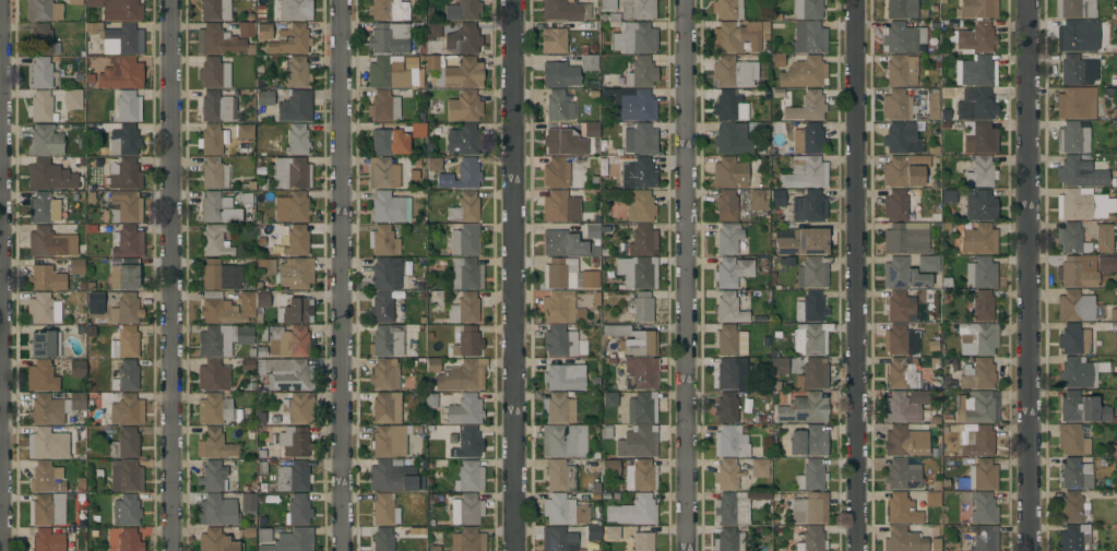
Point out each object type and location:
building: (74, 2)
building: (607, 4)
building: (1074, 8)
building: (118, 9)
building: (727, 9)
building: (808, 9)
building: (899, 9)
building: (976, 9)
building: (41, 10)
building: (215, 10)
building: (295, 10)
building: (463, 10)
building: (560, 10)
building: (638, 10)
building: (387, 11)
building: (246, 29)
building: (433, 31)
building: (264, 32)
building: (1078, 35)
building: (736, 37)
building: (808, 37)
building: (903, 37)
building: (389, 38)
building: (634, 38)
building: (976, 38)
building: (40, 39)
building: (463, 39)
building: (123, 40)
building: (290, 40)
building: (554, 40)
building: (217, 41)
building: (776, 60)
building: (431, 62)
building: (589, 62)
building: (1077, 70)
building: (739, 71)
building: (902, 71)
building: (976, 71)
building: (41, 72)
building: (803, 72)
building: (214, 73)
building: (295, 73)
building: (391, 73)
building: (641, 73)
building: (121, 74)
building: (462, 74)
building: (559, 74)
building: (1108, 93)
building: (264, 98)
building: (72, 99)
building: (1073, 103)
building: (630, 104)
building: (932, 104)
building: (726, 105)
building: (895, 105)
building: (296, 106)
building: (468, 106)
building: (806, 106)
building: (128, 107)
building: (216, 107)
building: (383, 107)
building: (558, 107)
building: (977, 107)
building: (41, 108)
building: (417, 130)
building: (245, 131)
building: (763, 132)
building: (900, 137)
building: (1072, 137)
building: (638, 139)
building: (732, 139)
building: (807, 139)
building: (981, 139)
building: (211, 140)
building: (297, 140)
building: (571, 140)
building: (45, 141)
building: (123, 141)
building: (464, 141)
building: (389, 142)
building: (918, 160)
building: (433, 165)
building: (290, 172)
building: (637, 172)
building: (902, 172)
building: (981, 172)
building: (1079, 172)
building: (214, 173)
building: (382, 173)
building: (467, 173)
building: (556, 173)
building: (729, 173)
building: (805, 173)
building: (124, 175)
building: (49, 176)
building: (948, 196)
building: (777, 199)
building: (759, 200)
building: (1080, 204)
building: (46, 205)
building: (561, 205)
building: (640, 205)
building: (900, 205)
building: (124, 206)
building: (297, 206)
building: (726, 206)
building: (809, 206)
building: (981, 206)
building: (388, 207)
building: (218, 208)
building: (464, 208)
building: (592, 230)
building: (906, 238)
building: (1071, 238)
building: (1104, 238)
building: (727, 239)
building: (49, 240)
building: (216, 240)
building: (382, 240)
building: (464, 240)
building: (643, 240)
building: (979, 240)
building: (127, 241)
building: (297, 241)
building: (803, 242)
building: (561, 243)
building: (927, 263)
building: (1106, 264)
building: (76, 266)
building: (288, 272)
building: (637, 272)
building: (733, 272)
building: (812, 272)
building: (559, 273)
building: (981, 273)
building: (1076, 273)
building: (466, 274)
building: (903, 274)
road: (4, 275)
building: (124, 275)
road: (173, 275)
building: (221, 275)
road: (338, 275)
building: (383, 275)
road: (516, 275)
road: (686, 275)
road: (852, 275)
road: (1031, 275)
building: (46, 278)
building: (589, 280)
building: (261, 300)
building: (641, 306)
building: (983, 306)
building: (1074, 306)
building: (297, 307)
building: (809, 307)
building: (899, 307)
building: (122, 308)
building: (225, 308)
building: (557, 308)
building: (728, 308)
building: (383, 309)
building: (466, 309)
building: (43, 310)
building: (1113, 315)
building: (977, 338)
building: (222, 339)
building: (289, 339)
building: (633, 339)
building: (811, 339)
building: (1074, 339)
building: (387, 340)
building: (901, 340)
building: (559, 342)
building: (727, 342)
building: (124, 343)
building: (467, 343)
building: (45, 344)
building: (262, 349)
building: (246, 364)
building: (432, 364)
building: (779, 366)
building: (76, 369)
building: (286, 373)
building: (810, 373)
building: (901, 373)
building: (1078, 373)
building: (384, 374)
building: (728, 374)
building: (977, 374)
building: (213, 375)
building: (462, 375)
building: (640, 375)
building: (41, 376)
building: (126, 376)
building: (565, 376)
building: (918, 397)
building: (609, 399)
building: (430, 400)
building: (726, 407)
building: (977, 407)
building: (55, 408)
building: (558, 408)
building: (642, 408)
building: (900, 408)
building: (1082, 408)
building: (214, 409)
building: (294, 409)
building: (388, 409)
building: (804, 409)
building: (126, 410)
building: (464, 410)
building: (1071, 440)
building: (390, 441)
building: (562, 441)
building: (55, 442)
building: (295, 442)
building: (638, 442)
building: (730, 442)
building: (808, 442)
building: (978, 442)
building: (466, 443)
building: (901, 443)
building: (126, 444)
building: (214, 444)
building: (436, 453)
building: (592, 466)
building: (610, 468)
building: (759, 468)
building: (1074, 474)
building: (726, 475)
building: (902, 475)
building: (126, 476)
building: (213, 476)
building: (393, 476)
building: (560, 476)
building: (640, 476)
building: (811, 476)
building: (979, 476)
building: (293, 477)
building: (468, 477)
building: (43, 478)
building: (595, 488)
building: (248, 503)
building: (805, 506)
building: (981, 506)
building: (732, 507)
building: (910, 507)
building: (1074, 507)
building: (46, 510)
building: (216, 510)
building: (299, 510)
building: (384, 510)
building: (466, 510)
building: (126, 511)
building: (563, 511)
building: (633, 511)
building: (592, 532)
building: (609, 532)
building: (983, 537)
building: (1073, 538)
building: (46, 539)
building: (112, 539)
building: (296, 539)
building: (383, 539)
building: (558, 539)
building: (729, 539)
building: (809, 539)
building: (129, 540)
building: (265, 540)
building: (467, 540)
building: (903, 540)
building: (216, 541)
building: (639, 542)
building: (935, 546)

